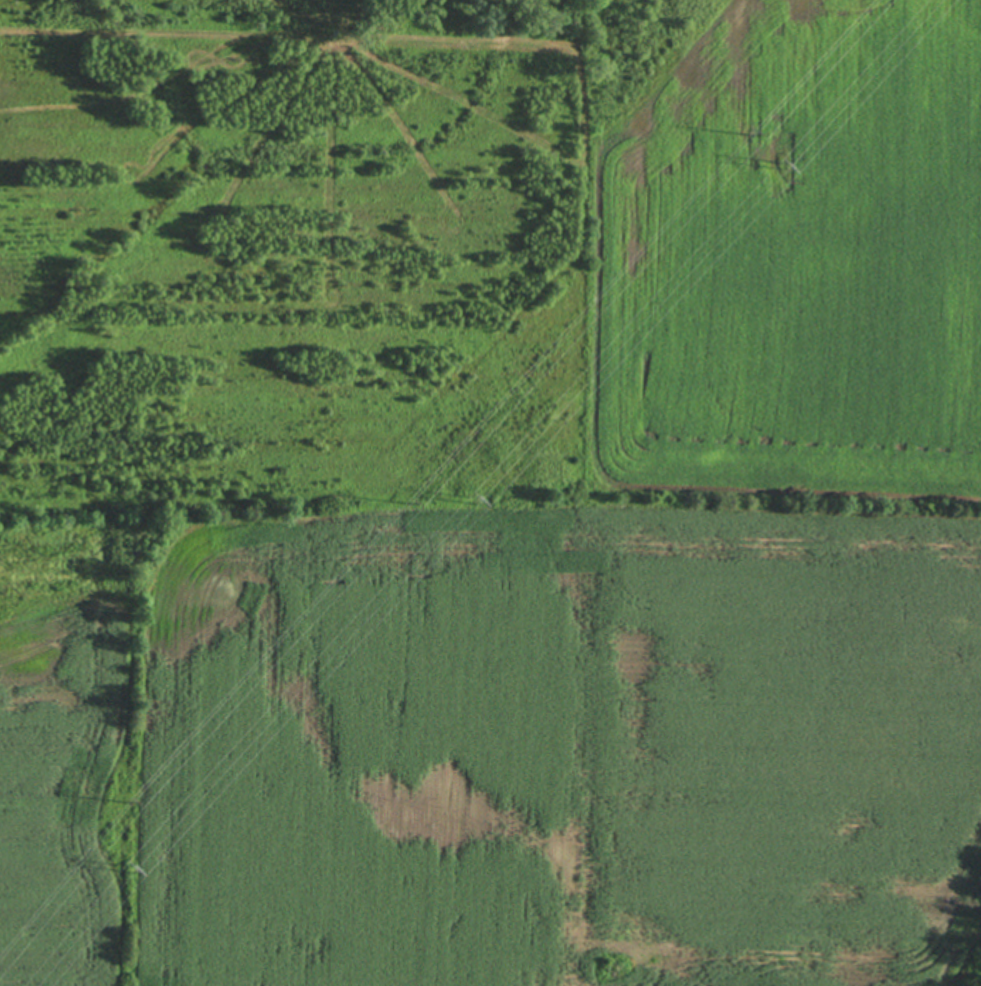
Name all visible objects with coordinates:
power tower: (753, 137)
power tower: (781, 169)
power tower: (477, 499)
power tower: (412, 502)
power tower: (139, 797)
power tower: (129, 866)

